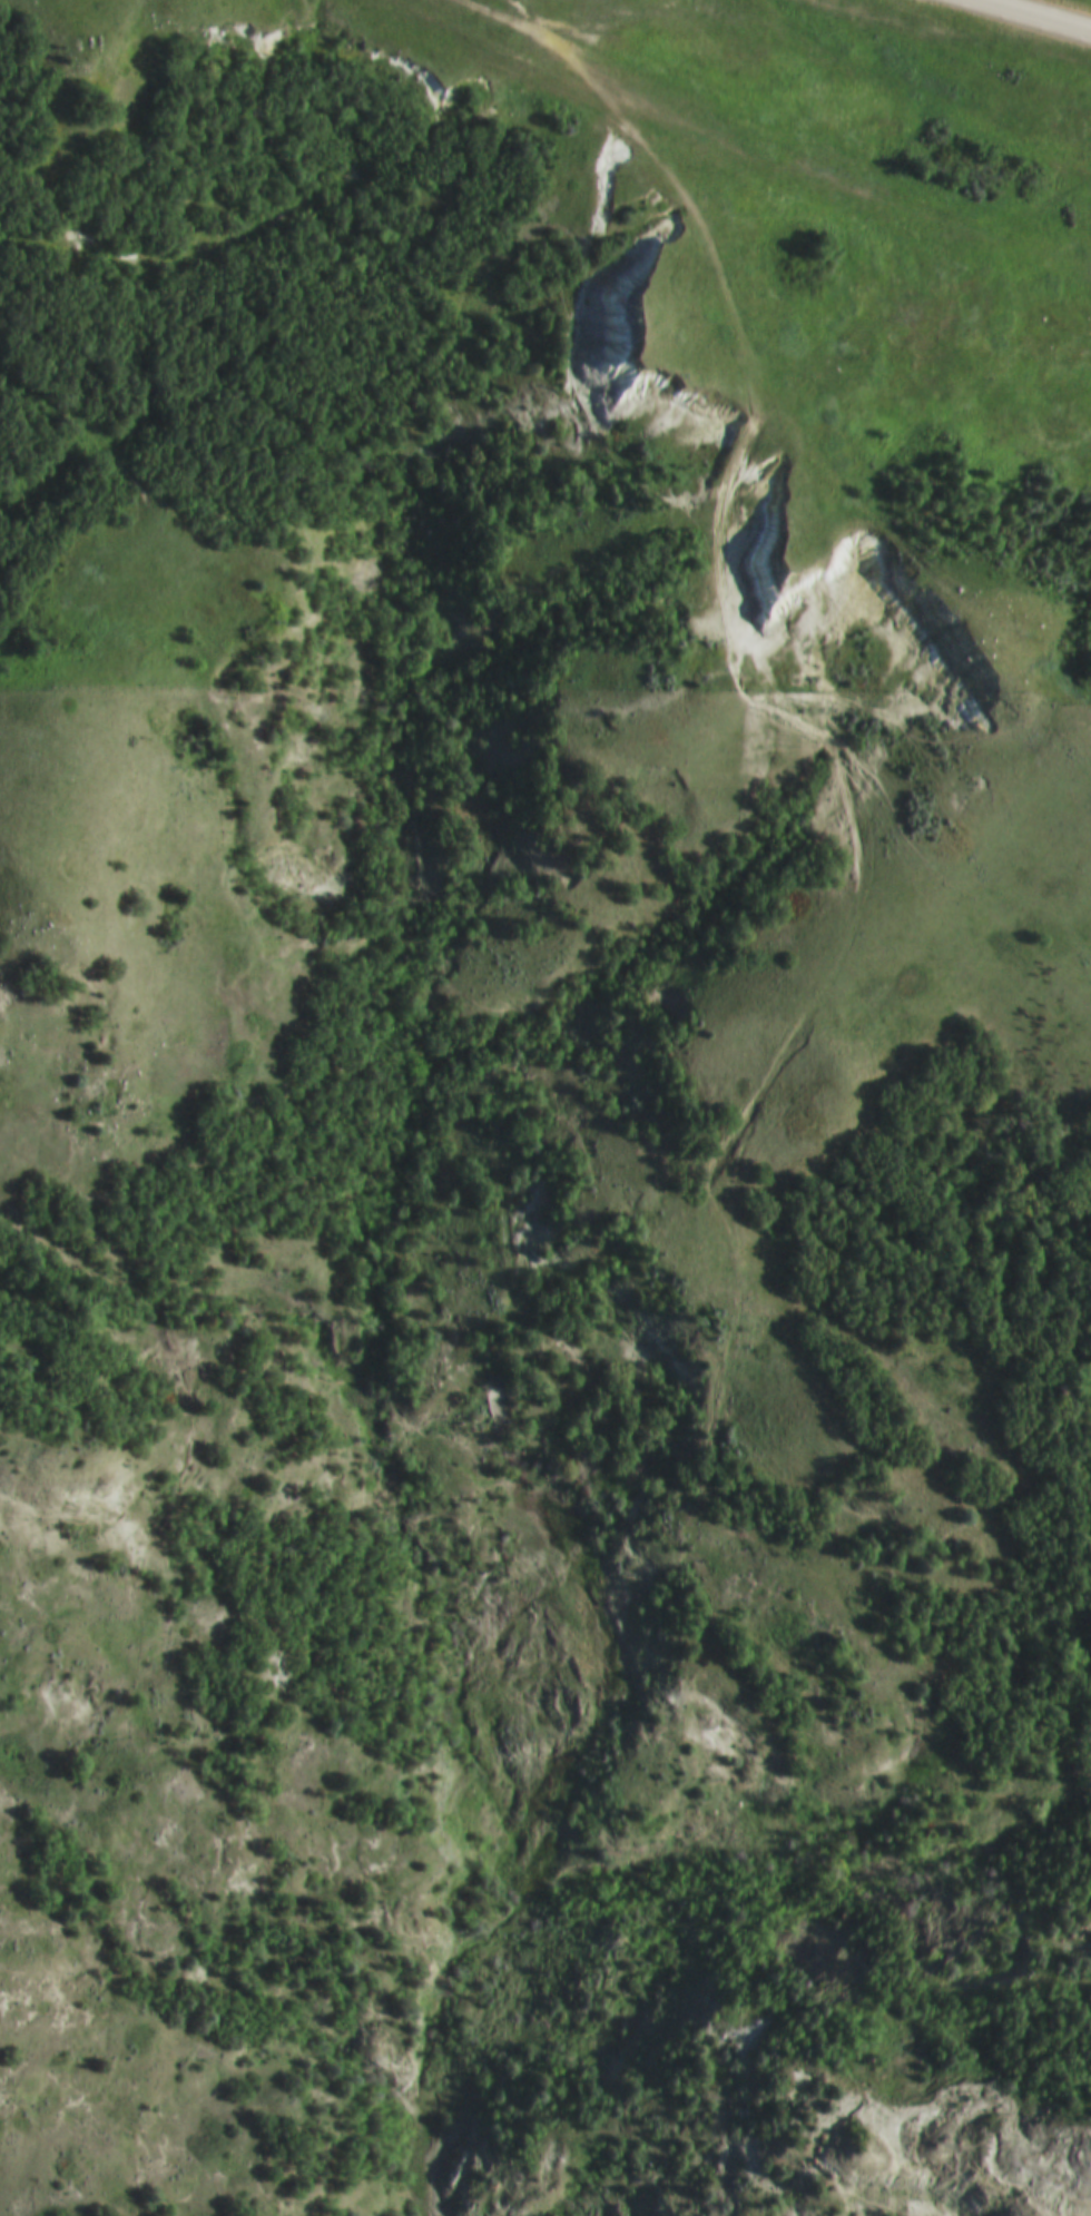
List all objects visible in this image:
road: (1048, 13)

